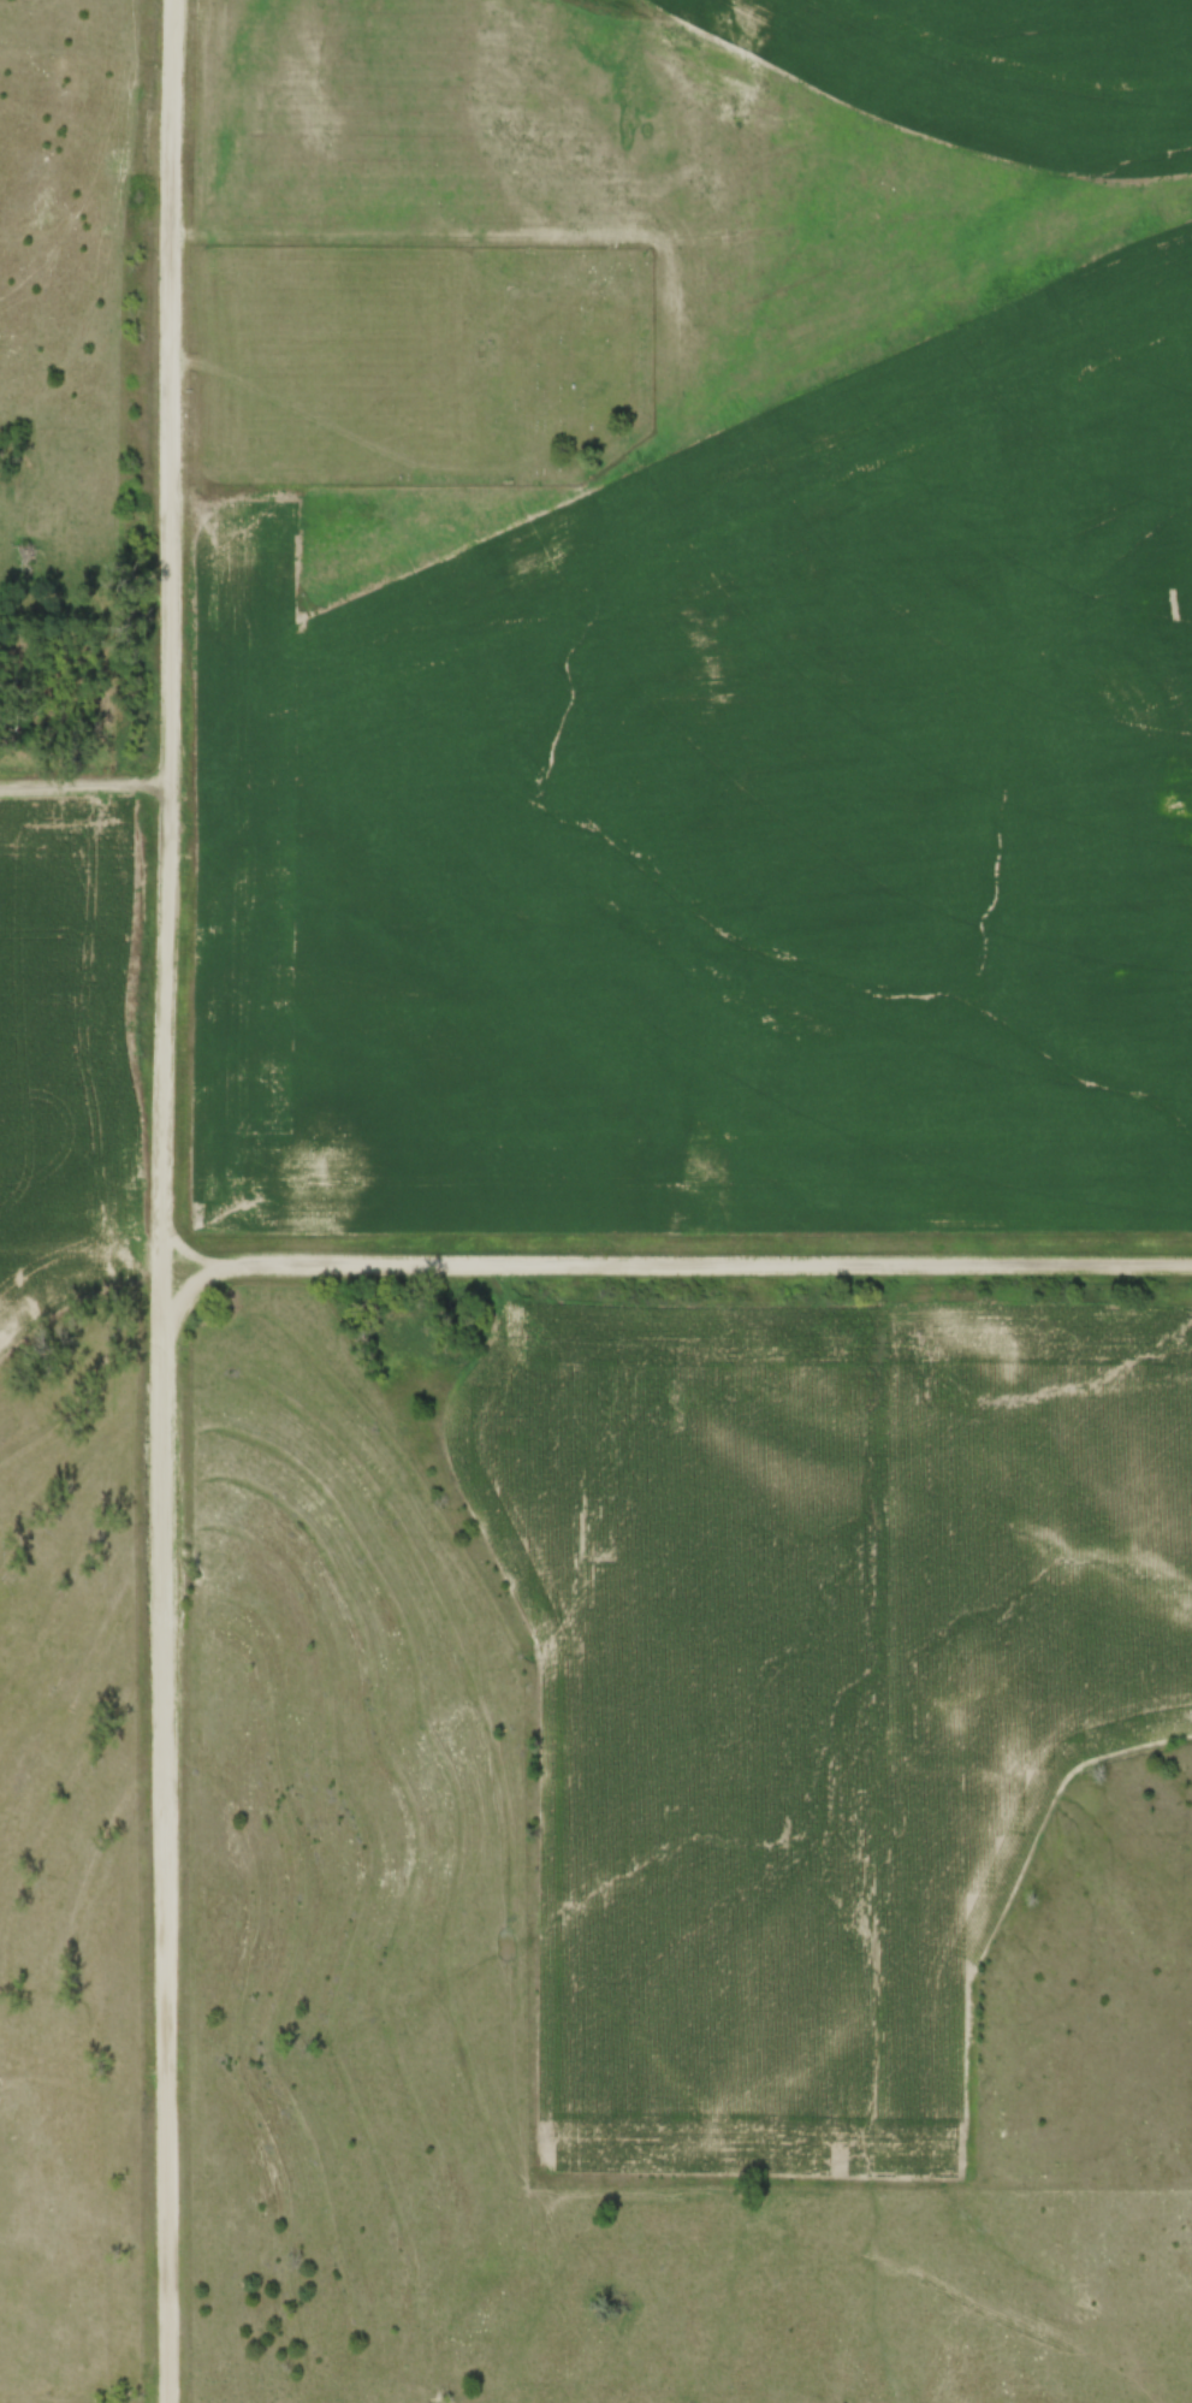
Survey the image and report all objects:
park: (420, 361)
road: (83, 783)
road: (160, 1201)
road: (676, 1267)

